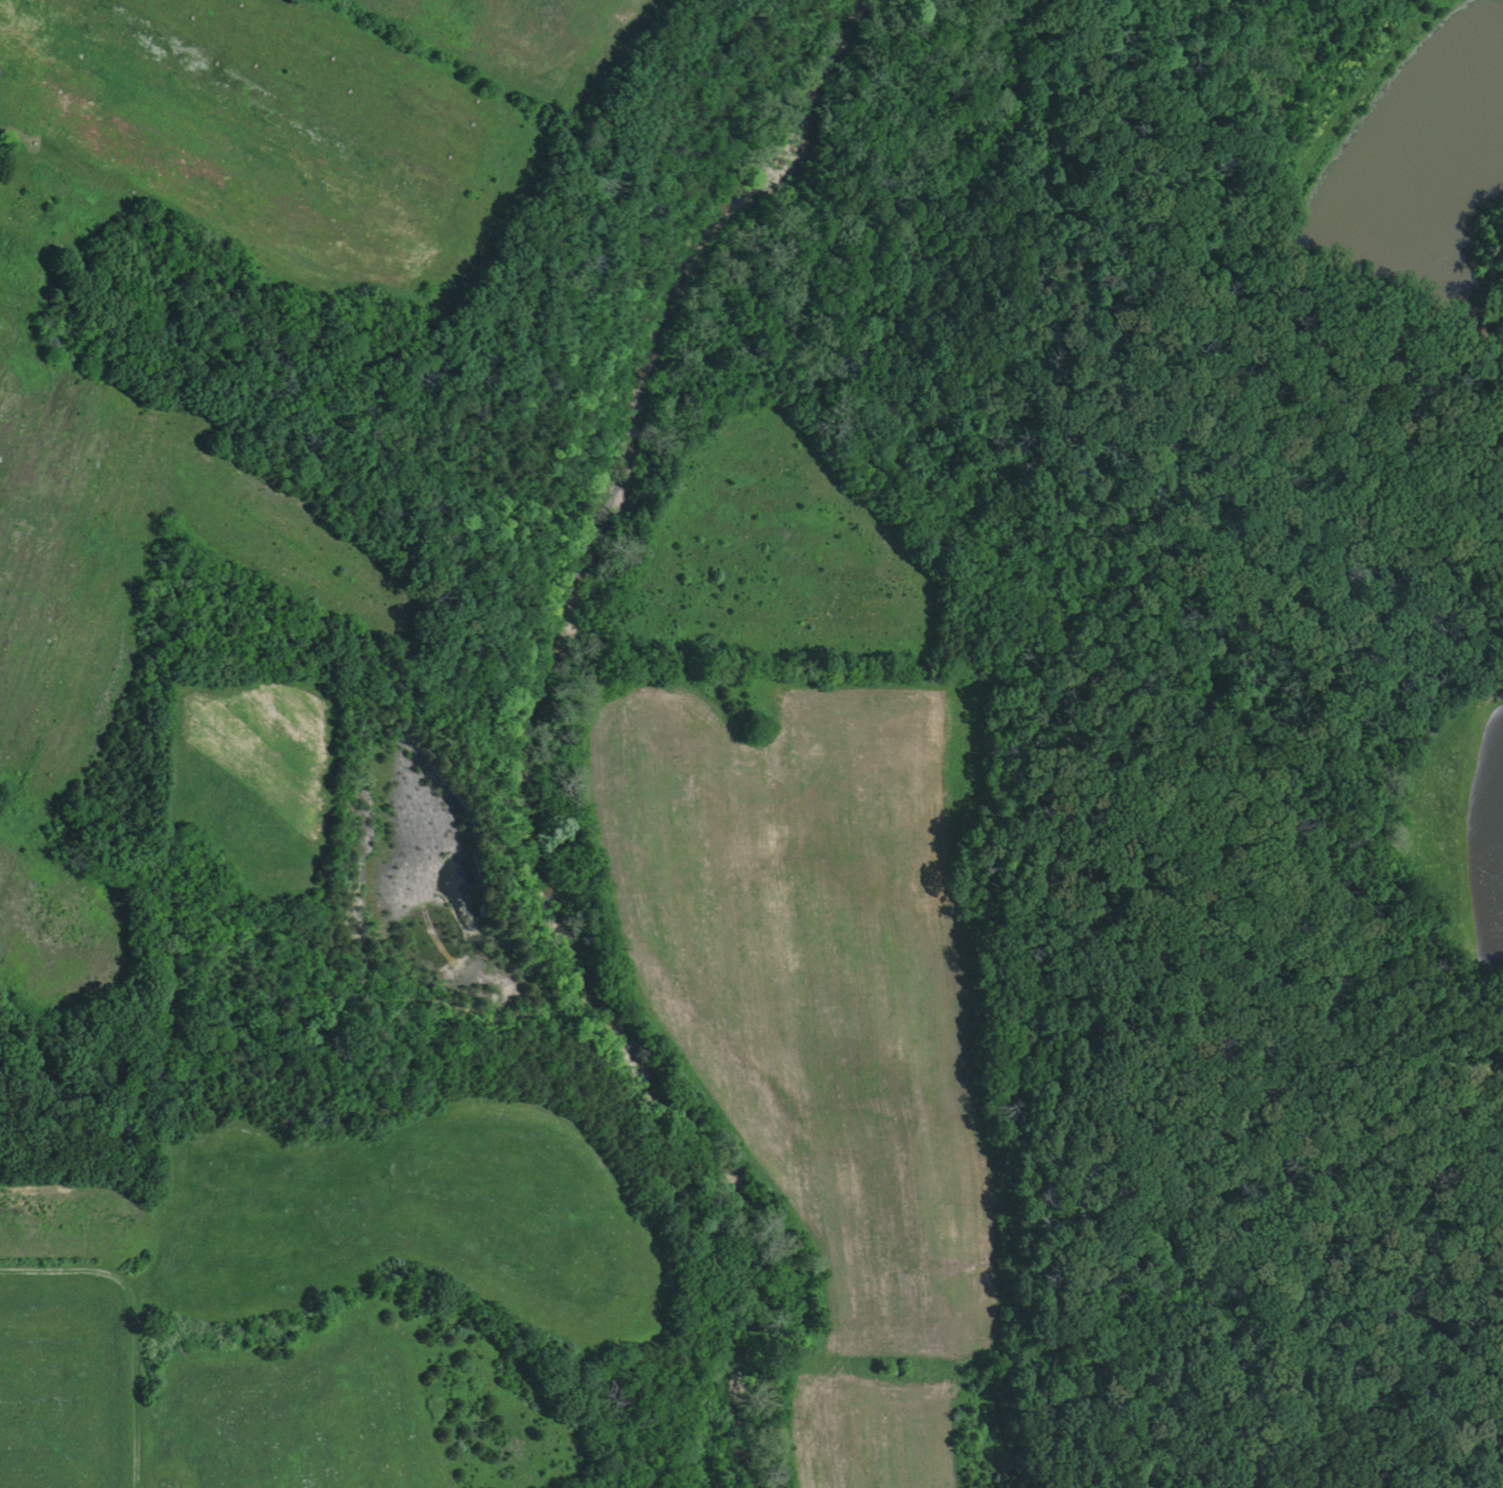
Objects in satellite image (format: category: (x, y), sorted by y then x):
building: (0, 81)
river: (541, 727)
road: (138, 1320)
building: (174, 1484)

